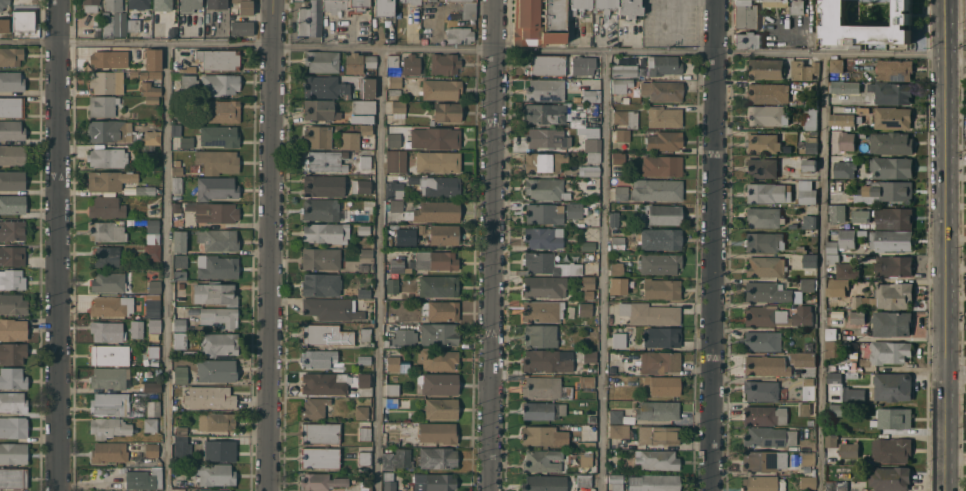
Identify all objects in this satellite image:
building: (296, 0)
building: (396, 0)
building: (410, 1)
building: (742, 1)
building: (763, 1)
building: (779, 3)
building: (4, 4)
building: (138, 4)
building: (216, 4)
building: (359, 4)
building: (90, 5)
building: (113, 5)
building: (162, 5)
building: (189, 5)
building: (322, 5)
building: (605, 5)
building: (334, 6)
building: (579, 6)
building: (244, 7)
building: (798, 7)
building: (383, 8)
building: (468, 8)
building: (629, 9)
building: (841, 14)
building: (746, 15)
building: (24, 19)
building: (303, 20)
building: (96, 21)
building: (133, 21)
building: (539, 22)
building: (107, 24)
parking lot: (680, 24)
building: (4, 25)
road: (945, 27)
building: (241, 28)
building: (784, 30)
building: (97, 31)
building: (171, 32)
building: (459, 35)
building: (748, 40)
road: (472, 47)
building: (10, 55)
building: (109, 58)
building: (153, 59)
building: (218, 59)
building: (628, 59)
building: (322, 60)
building: (392, 60)
building: (370, 61)
building: (354, 63)
building: (410, 64)
building: (445, 64)
building: (546, 64)
building: (663, 65)
building: (836, 65)
building: (582, 66)
building: (765, 68)
building: (624, 70)
building: (804, 70)
building: (895, 70)
building: (151, 76)
building: (11, 81)
building: (395, 81)
building: (107, 82)
building: (188, 84)
building: (220, 84)
building: (621, 85)
building: (324, 86)
building: (367, 87)
building: (844, 87)
building: (149, 89)
building: (441, 89)
building: (545, 89)
building: (662, 90)
building: (394, 91)
building: (892, 92)
building: (767, 93)
building: (591, 95)
building: (151, 99)
building: (626, 100)
building: (102, 105)
building: (579, 105)
building: (363, 106)
building: (12, 107)
building: (320, 109)
building: (398, 109)
building: (583, 110)
building: (863, 110)
building: (222, 111)
building: (446, 112)
building: (545, 113)
building: (766, 115)
building: (664, 116)
building: (626, 118)
building: (810, 118)
building: (893, 118)
building: (368, 119)
building: (842, 119)
building: (11, 129)
building: (176, 130)
building: (366, 130)
building: (109, 131)
building: (588, 132)
building: (622, 134)
building: (864, 134)
building: (219, 136)
building: (317, 136)
building: (151, 137)
building: (435, 137)
building: (547, 138)
building: (349, 140)
building: (393, 140)
building: (664, 140)
building: (186, 141)
building: (367, 141)
building: (847, 141)
building: (763, 143)
building: (891, 143)
building: (592, 145)
building: (810, 145)
building: (12, 154)
building: (107, 157)
building: (593, 157)
building: (618, 158)
building: (217, 161)
building: (325, 161)
building: (365, 161)
building: (396, 161)
building: (438, 161)
building: (177, 162)
building: (544, 162)
building: (661, 165)
building: (896, 166)
building: (761, 167)
building: (808, 168)
building: (845, 169)
building: (177, 170)
building: (588, 170)
building: (413, 179)
building: (12, 180)
building: (109, 180)
building: (177, 185)
building: (323, 185)
building: (361, 186)
building: (440, 186)
building: (216, 188)
building: (394, 189)
building: (545, 189)
building: (656, 189)
building: (129, 190)
building: (145, 190)
building: (886, 191)
building: (621, 193)
building: (767, 193)
building: (808, 196)
building: (12, 204)
building: (396, 205)
building: (620, 205)
building: (631, 205)
building: (106, 207)
building: (176, 207)
building: (321, 209)
building: (573, 210)
building: (434, 211)
building: (214, 212)
building: (544, 213)
building: (837, 213)
building: (664, 214)
building: (861, 215)
building: (364, 217)
building: (763, 217)
building: (894, 218)
building: (614, 219)
building: (810, 222)
building: (363, 229)
building: (12, 230)
building: (106, 231)
building: (152, 232)
building: (325, 233)
building: (862, 233)
building: (443, 234)
building: (406, 236)
building: (543, 237)
building: (660, 238)
building: (218, 239)
building: (846, 239)
building: (891, 240)
building: (179, 241)
building: (763, 242)
building: (617, 243)
road: (59, 245)
road: (272, 245)
road: (494, 245)
building: (588, 245)
road: (713, 245)
building: (833, 247)
building: (801, 249)
building: (152, 252)
building: (12, 255)
building: (106, 255)
building: (321, 258)
building: (832, 258)
building: (180, 260)
building: (434, 260)
building: (810, 260)
building: (364, 261)
building: (659, 263)
building: (548, 264)
building: (894, 265)
building: (398, 266)
building: (765, 266)
road: (166, 267)
building: (218, 267)
road: (379, 268)
building: (616, 268)
road: (602, 270)
building: (847, 270)
road: (820, 271)
road: (945, 272)
building: (180, 274)
building: (12, 279)
building: (108, 282)
building: (588, 282)
building: (321, 284)
building: (392, 285)
building: (154, 286)
building: (438, 286)
building: (544, 286)
building: (617, 286)
building: (837, 288)
building: (661, 289)
building: (779, 291)
building: (363, 292)
building: (214, 293)
building: (588, 294)
building: (892, 295)
building: (857, 301)
building: (12, 303)
building: (110, 306)
building: (331, 309)
building: (585, 309)
building: (441, 310)
building: (152, 311)
building: (542, 311)
building: (650, 313)
building: (219, 316)
building: (777, 316)
building: (857, 316)
building: (891, 323)
building: (179, 324)
building: (154, 325)
building: (136, 328)
building: (12, 329)
building: (107, 331)
building: (326, 334)
building: (438, 334)
building: (832, 334)
building: (365, 335)
building: (543, 335)
building: (404, 337)
building: (661, 337)
building: (619, 339)
building: (179, 340)
building: (760, 341)
building: (218, 343)
building: (809, 343)
building: (833, 349)
building: (153, 351)
building: (888, 352)
building: (12, 353)
building: (109, 354)
building: (589, 356)
building: (318, 358)
building: (364, 359)
building: (437, 359)
building: (802, 359)
building: (547, 360)
building: (661, 362)
building: (396, 364)
building: (765, 365)
building: (834, 368)
building: (216, 370)
building: (180, 374)
building: (851, 375)
road: (955, 376)
building: (398, 377)
building: (12, 378)
building: (108, 378)
building: (391, 378)
building: (363, 380)
building: (586, 381)
building: (808, 382)
building: (324, 383)
building: (436, 384)
building: (663, 385)
building: (154, 386)
building: (893, 386)
building: (545, 388)
building: (392, 389)
building: (760, 390)
building: (842, 390)
building: (209, 397)
building: (13, 402)
building: (391, 402)
building: (110, 403)
building: (314, 407)
building: (153, 408)
building: (441, 408)
building: (804, 408)
building: (542, 410)
building: (657, 410)
building: (836, 410)
building: (361, 412)
building: (615, 415)
building: (764, 415)
building: (893, 418)
building: (592, 419)
building: (217, 421)
building: (810, 422)
building: (150, 425)
building: (13, 426)
building: (109, 427)
building: (181, 431)
building: (619, 431)
building: (320, 432)
building: (364, 433)
building: (438, 433)
building: (391, 434)
building: (658, 434)
building: (543, 435)
building: (769, 436)
building: (831, 440)
building: (588, 444)
building: (181, 446)
building: (151, 449)
building: (849, 449)
building: (892, 449)
building: (220, 450)
building: (13, 452)
building: (109, 452)
building: (320, 457)
building: (437, 457)
building: (363, 458)
building: (397, 459)
building: (585, 459)
building: (657, 459)
building: (542, 460)
building: (763, 460)
building: (807, 461)
building: (211, 473)
building: (812, 474)
building: (13, 477)
building: (144, 478)
building: (615, 478)
building: (890, 478)
building: (583, 480)
building: (320, 481)
building: (389, 481)
building: (436, 481)
building: (807, 482)
building: (543, 483)
building: (654, 483)
building: (762, 483)
building: (365, 485)
building: (836, 486)
building: (177, 489)
building: (156, 490)
building: (214, 490)

